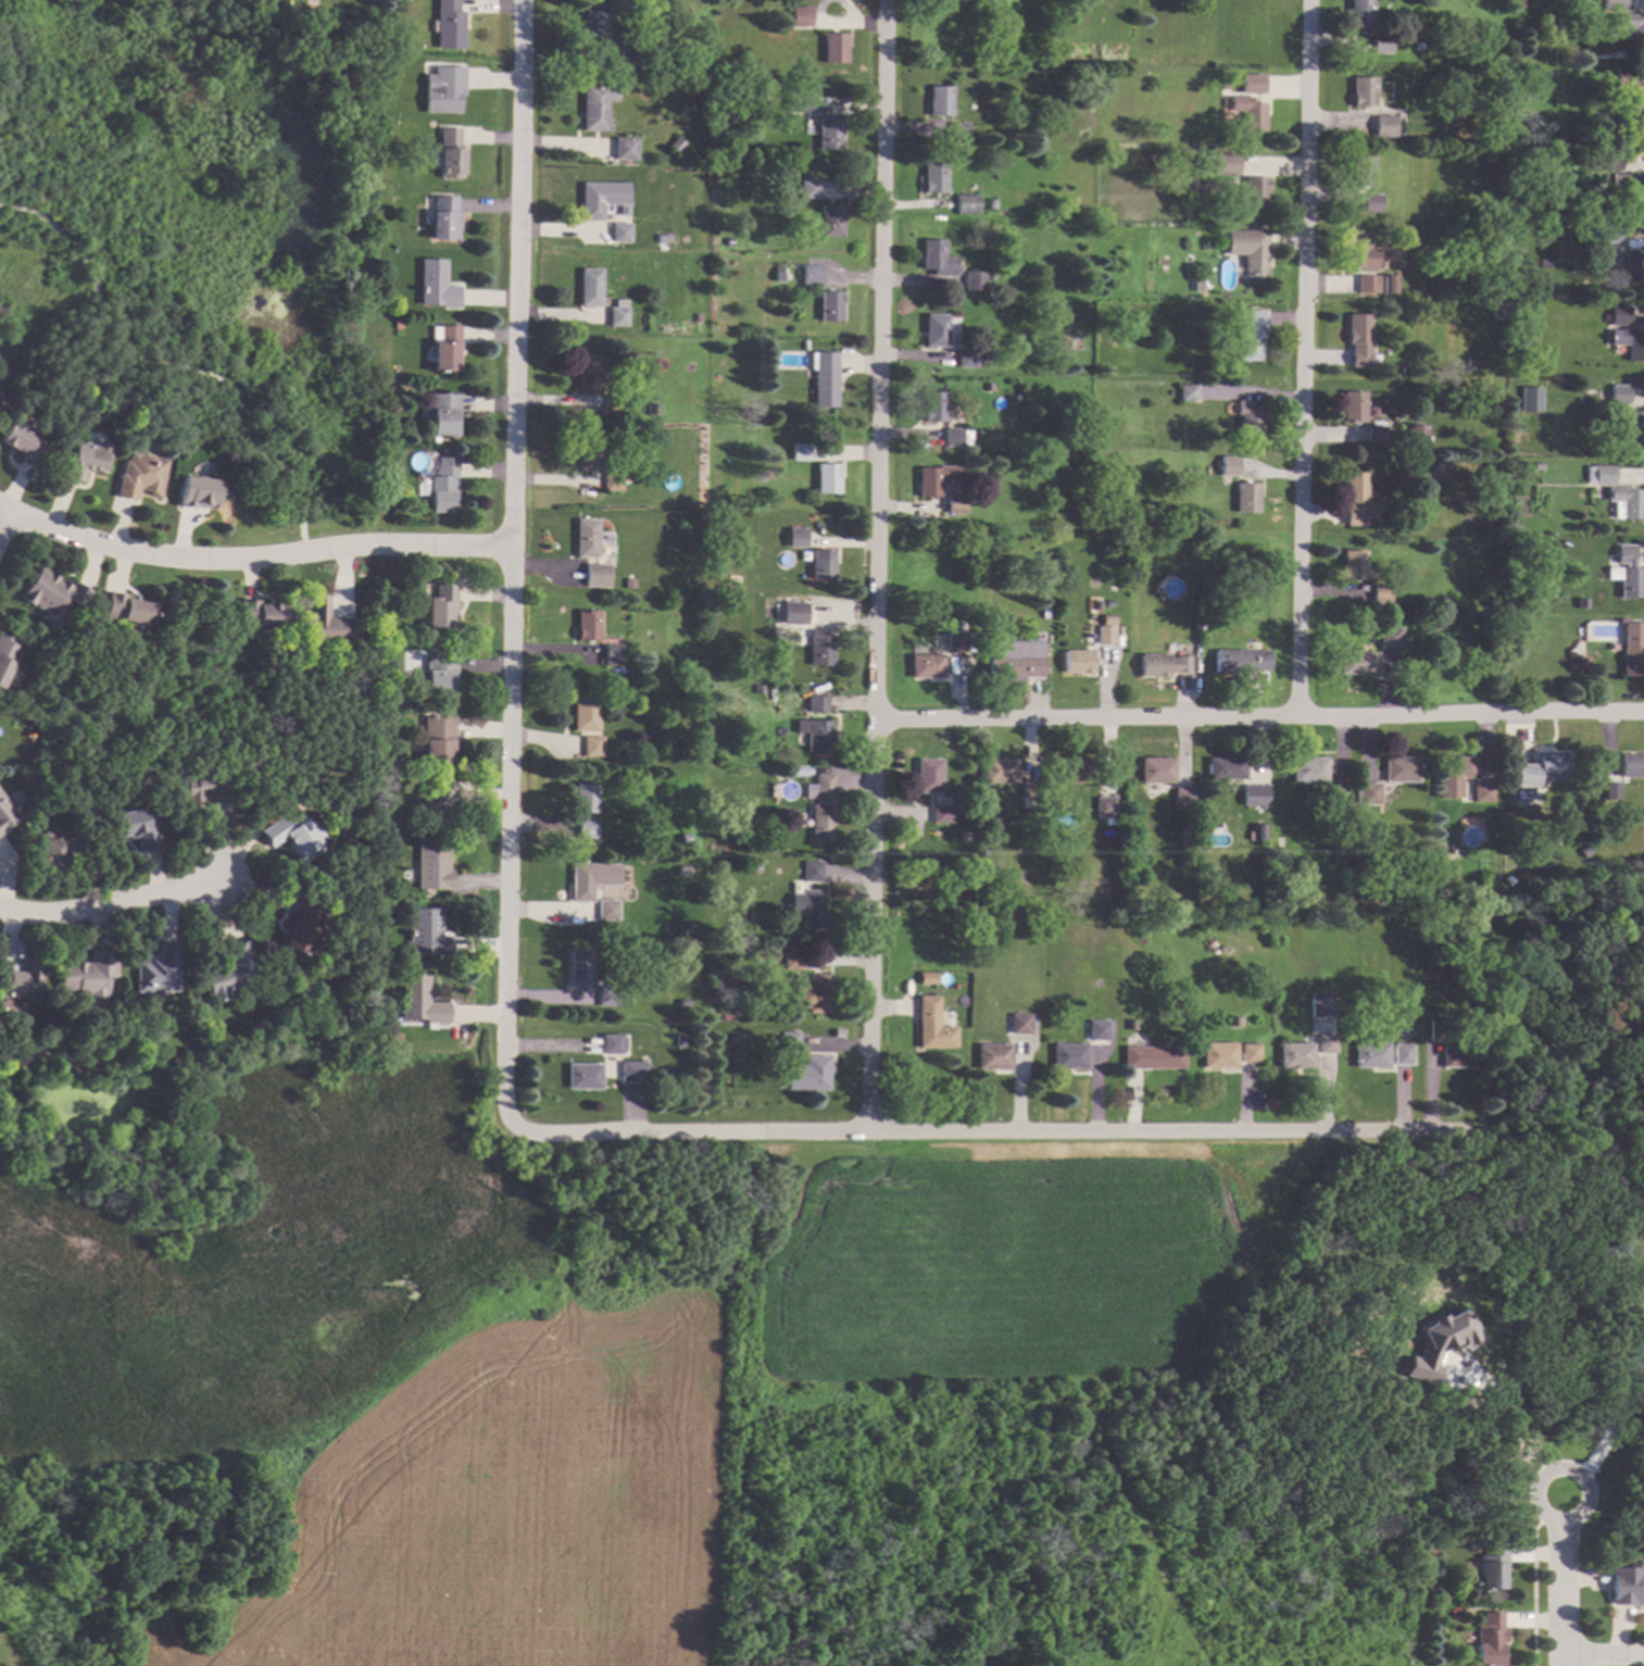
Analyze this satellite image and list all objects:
building: (1615, 5)
building: (1360, 14)
building: (801, 16)
building: (449, 25)
building: (1632, 26)
building: (597, 27)
building: (1381, 43)
building: (1419, 46)
building: (834, 48)
building: (626, 58)
building: (643, 63)
building: (1624, 78)
building: (1255, 84)
building: (1225, 85)
building: (444, 91)
building: (1363, 92)
building: (940, 101)
building: (804, 102)
building: (788, 104)
building: (597, 107)
building: (1637, 110)
building: (1248, 112)
building: (1388, 126)
building: (959, 131)
building: (829, 134)
building: (675, 146)
building: (625, 149)
building: (450, 153)
building: (1610, 161)
building: (1225, 165)
building: (1361, 172)
building: (934, 178)
building: (1630, 186)
building: (810, 189)
building: (1255, 192)
building: (601, 199)
building: (1371, 203)
building: (967, 204)
building: (991, 204)
building: (444, 218)
building: (831, 221)
building: (1591, 230)
building: (620, 233)
building: (1610, 234)
building: (664, 239)
park: (203, 240)
building: (1364, 254)
building: (938, 259)
building: (1252, 260)
building: (1634, 267)
building: (811, 274)
building: (990, 275)
building: (975, 280)
building: (1368, 284)
building: (1390, 284)
building: (436, 285)
building: (590, 287)
building: (830, 306)
building: (618, 313)
building: (1620, 315)
building: (698, 317)
building: (397, 325)
building: (934, 330)
building: (1250, 334)
building: (1359, 340)
building: (1630, 343)
building: (805, 345)
building: (447, 349)
building: (988, 356)
building: (967, 359)
road: (1300, 359)
road: (153, 364)
building: (1405, 369)
building: (589, 374)
building: (824, 378)
building: (989, 387)
building: (1188, 392)
building: (1620, 394)
building: (1, 400)
building: (1531, 400)
building: (614, 405)
building: (934, 406)
building: (1354, 408)
building: (652, 409)
building: (443, 414)
building: (1250, 418)
building: (1634, 425)
building: (1376, 431)
building: (953, 437)
building: (1417, 437)
building: (23, 444)
building: (442, 450)
building: (590, 452)
building: (800, 452)
building: (1033, 459)
building: (81, 461)
building: (1539, 465)
building: (1229, 466)
building: (1439, 466)
building: (1208, 468)
building: (1601, 475)
building: (140, 476)
building: (827, 478)
building: (937, 479)
building: (612, 481)
building: (443, 485)
building: (198, 492)
building: (1246, 498)
building: (1356, 498)
building: (1628, 501)
building: (956, 503)
road: (3, 513)
road: (3, 522)
building: (587, 538)
building: (1134, 539)
building: (796, 540)
road: (255, 558)
building: (823, 564)
road: (877, 564)
building: (1354, 565)
building: (1628, 573)
building: (597, 575)
road: (511, 580)
building: (51, 592)
building: (1381, 593)
building: (441, 607)
building: (126, 609)
building: (794, 614)
building: (261, 615)
building: (1107, 619)
building: (326, 624)
building: (588, 626)
building: (1105, 635)
building: (1391, 637)
building: (956, 642)
building: (1632, 649)
building: (821, 650)
building: (612, 654)
building: (632, 654)
building: (7, 656)
building: (337, 657)
building: (1014, 659)
building: (1509, 660)
building: (1241, 661)
building: (1078, 662)
building: (1358, 663)
building: (1582, 664)
building: (1163, 665)
building: (927, 666)
building: (439, 675)
building: (757, 689)
building: (816, 704)
building: (585, 714)
road: (1258, 718)
building: (815, 735)
building: (438, 739)
building: (402, 740)
building: (592, 747)
building: (627, 755)
building: (1630, 765)
building: (1454, 767)
building: (1228, 768)
building: (1309, 769)
building: (1400, 769)
building: (1540, 769)
building: (999, 771)
building: (1075, 771)
building: (1158, 771)
building: (778, 776)
building: (928, 776)
building: (820, 788)
building: (208, 789)
building: (1029, 789)
building: (1609, 791)
building: (1259, 793)
building: (1366, 793)
building: (1481, 793)
building: (585, 798)
building: (1184, 798)
building: (1334, 802)
building: (1106, 806)
building: (431, 809)
building: (5, 814)
building: (941, 814)
building: (820, 824)
building: (135, 828)
building: (585, 829)
building: (1259, 832)
building: (293, 836)
building: (683, 839)
building: (59, 851)
building: (1185, 861)
building: (1358, 863)
building: (754, 867)
building: (432, 868)
building: (682, 870)
building: (812, 872)
building: (590, 879)
building: (394, 894)
road: (105, 906)
building: (808, 907)
building: (606, 913)
building: (300, 923)
building: (426, 934)
building: (792, 960)
building: (579, 969)
building: (156, 970)
building: (227, 972)
building: (87, 975)
building: (927, 978)
building: (23, 981)
building: (814, 994)
building: (606, 995)
building: (419, 1000)
building: (683, 1003)
building: (1323, 1005)
building: (152, 1012)
building: (1476, 1018)
building: (1238, 1022)
building: (1020, 1024)
building: (932, 1025)
building: (1132, 1025)
building: (1438, 1029)
building: (1099, 1030)
building: (1405, 1031)
building: (837, 1034)
building: (679, 1041)
building: (64, 1042)
building: (788, 1042)
building: (612, 1043)
building: (1328, 1043)
building: (1251, 1052)
building: (1403, 1054)
building: (1220, 1055)
building: (1296, 1055)
building: (1371, 1055)
building: (993, 1056)
building: (1069, 1056)
building: (1460, 1056)
building: (1154, 1057)
building: (633, 1072)
building: (808, 1074)
building: (583, 1077)
road: (1000, 1130)
crop: (992, 1275)
building: (1441, 1344)
road: (1615, 1423)
road: (1526, 1429)
crop: (478, 1512)
building: (1616, 1543)
building: (1491, 1569)
road: (1564, 1580)
building: (1627, 1586)
building: (1490, 1640)
road: (1604, 1654)

